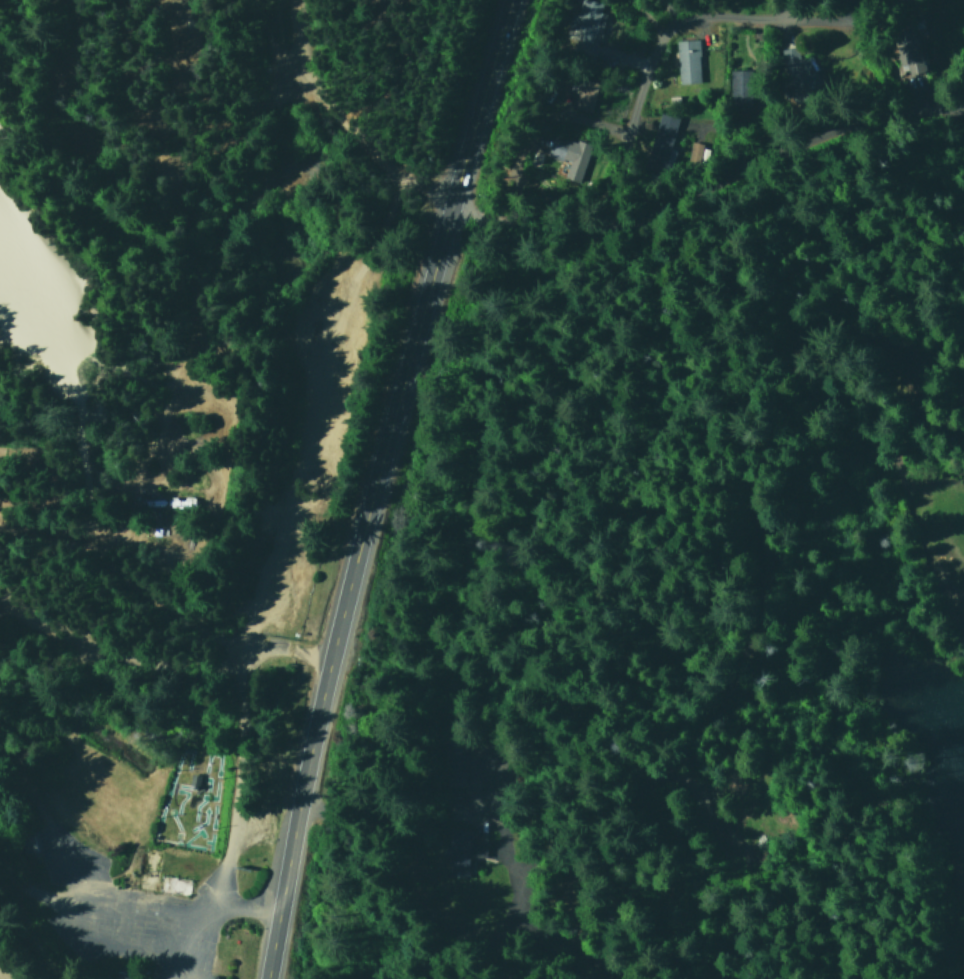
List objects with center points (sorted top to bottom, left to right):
building: (902, 2)
road: (666, 15)
building: (583, 26)
road: (669, 29)
building: (907, 59)
building: (685, 61)
building: (791, 63)
building: (737, 81)
building: (581, 94)
building: (661, 136)
building: (567, 157)
road: (711, 173)
road: (383, 488)
building: (452, 758)
building: (30, 841)
building: (459, 851)
road: (383, 896)
road: (206, 915)
building: (120, 975)

